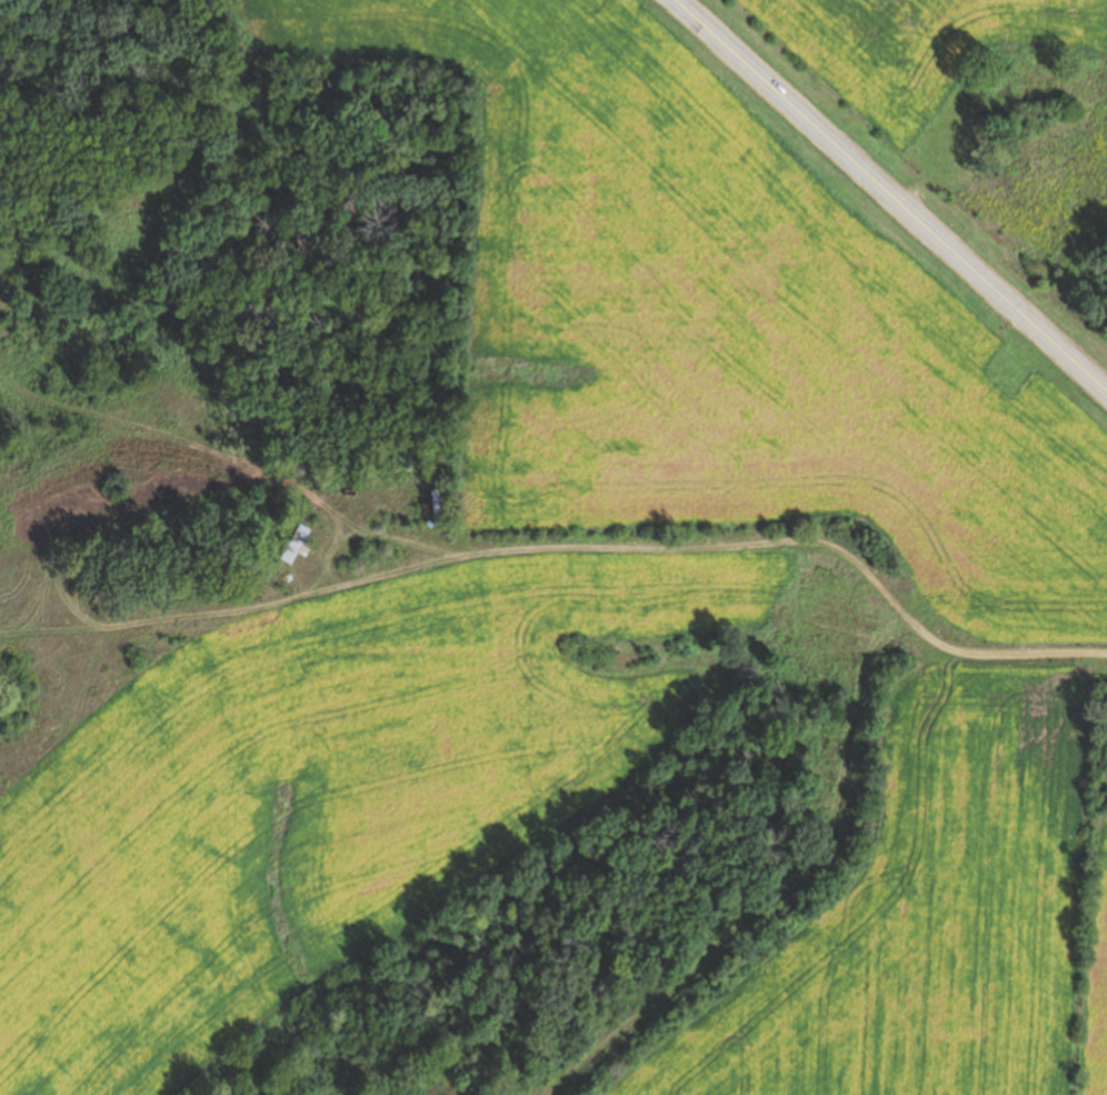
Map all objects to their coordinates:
road: (887, 197)
building: (298, 546)
road: (1046, 645)

